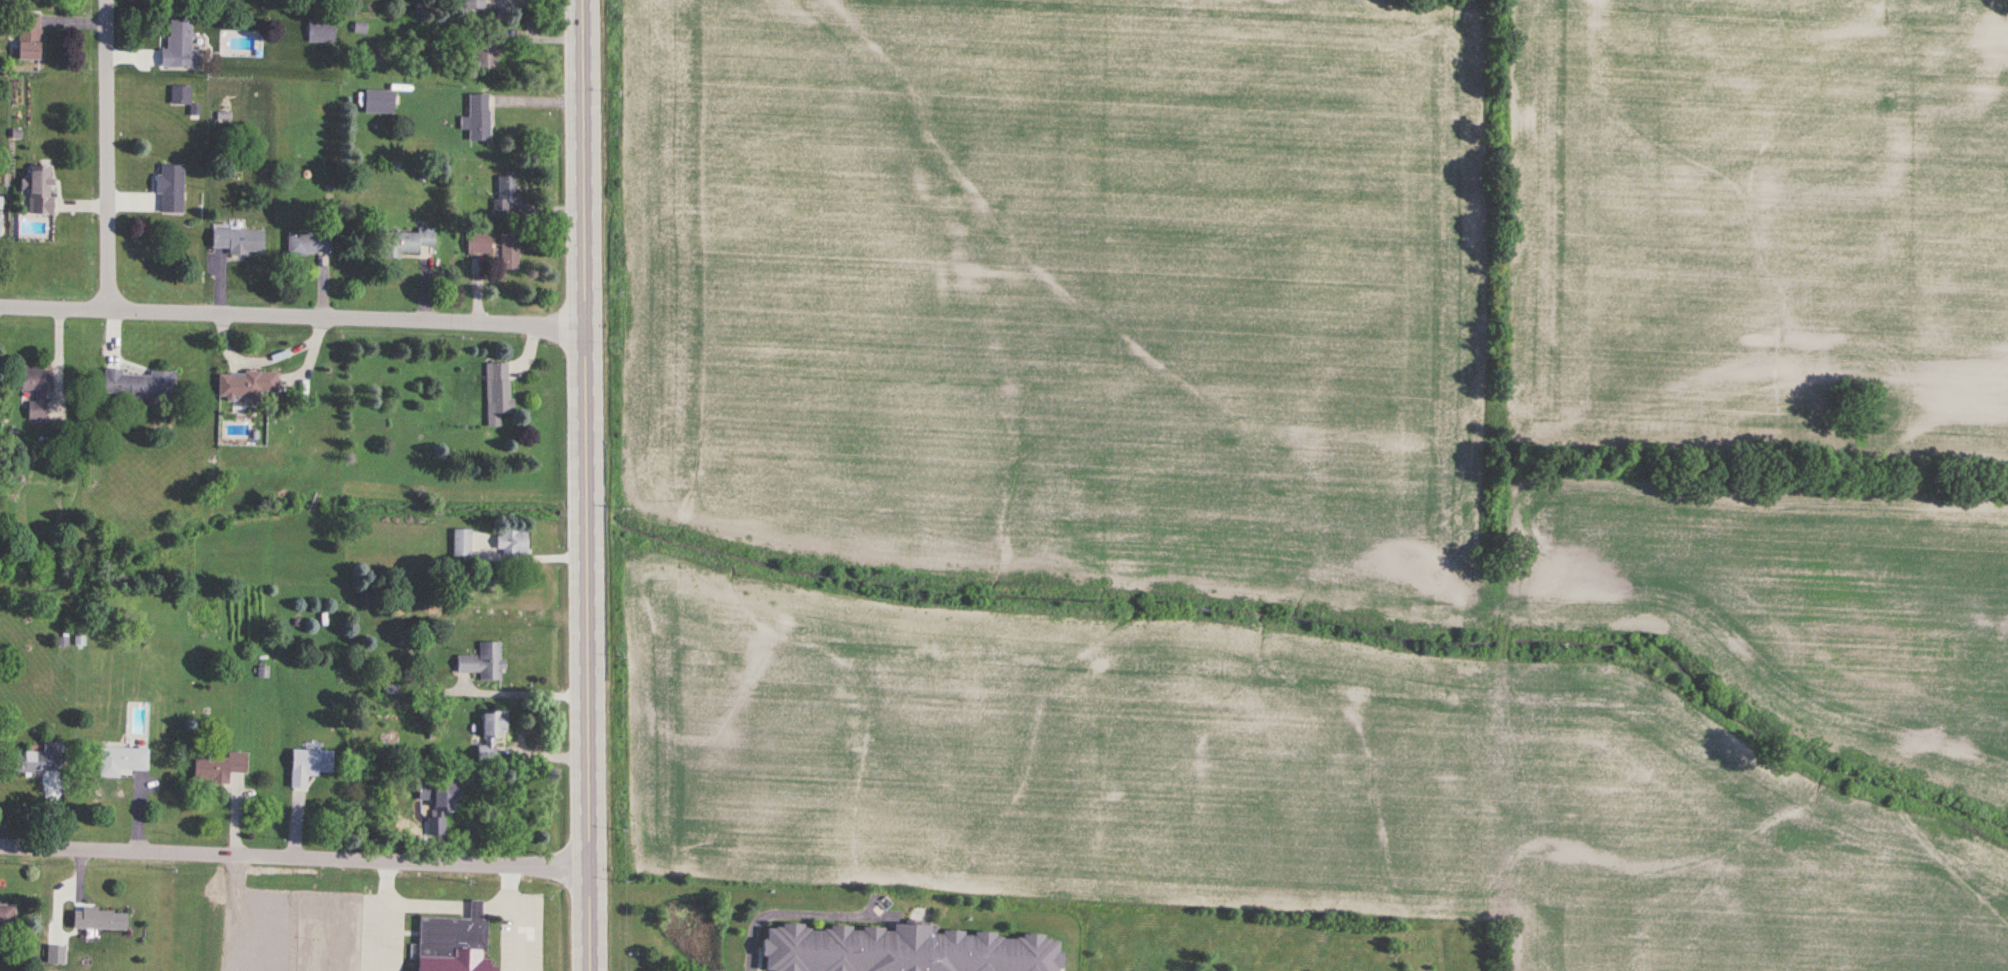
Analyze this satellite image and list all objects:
building: (477, 4)
building: (321, 30)
building: (28, 36)
building: (180, 46)
building: (485, 52)
building: (181, 95)
building: (478, 118)
road: (111, 155)
building: (171, 189)
building: (39, 191)
building: (506, 192)
building: (0, 225)
building: (236, 240)
building: (408, 242)
building: (308, 243)
building: (509, 254)
road: (294, 314)
building: (138, 385)
building: (244, 385)
building: (35, 392)
building: (497, 392)
road: (589, 485)
building: (514, 540)
building: (461, 543)
road: (536, 557)
building: (483, 662)
road: (530, 694)
building: (491, 732)
building: (40, 760)
building: (122, 760)
building: (309, 766)
building: (218, 768)
building: (438, 792)
building: (435, 827)
road: (295, 856)
road: (761, 895)
road: (382, 915)
building: (7, 916)
road: (516, 916)
building: (99, 920)
building: (452, 943)
building: (901, 951)
building: (55, 955)

